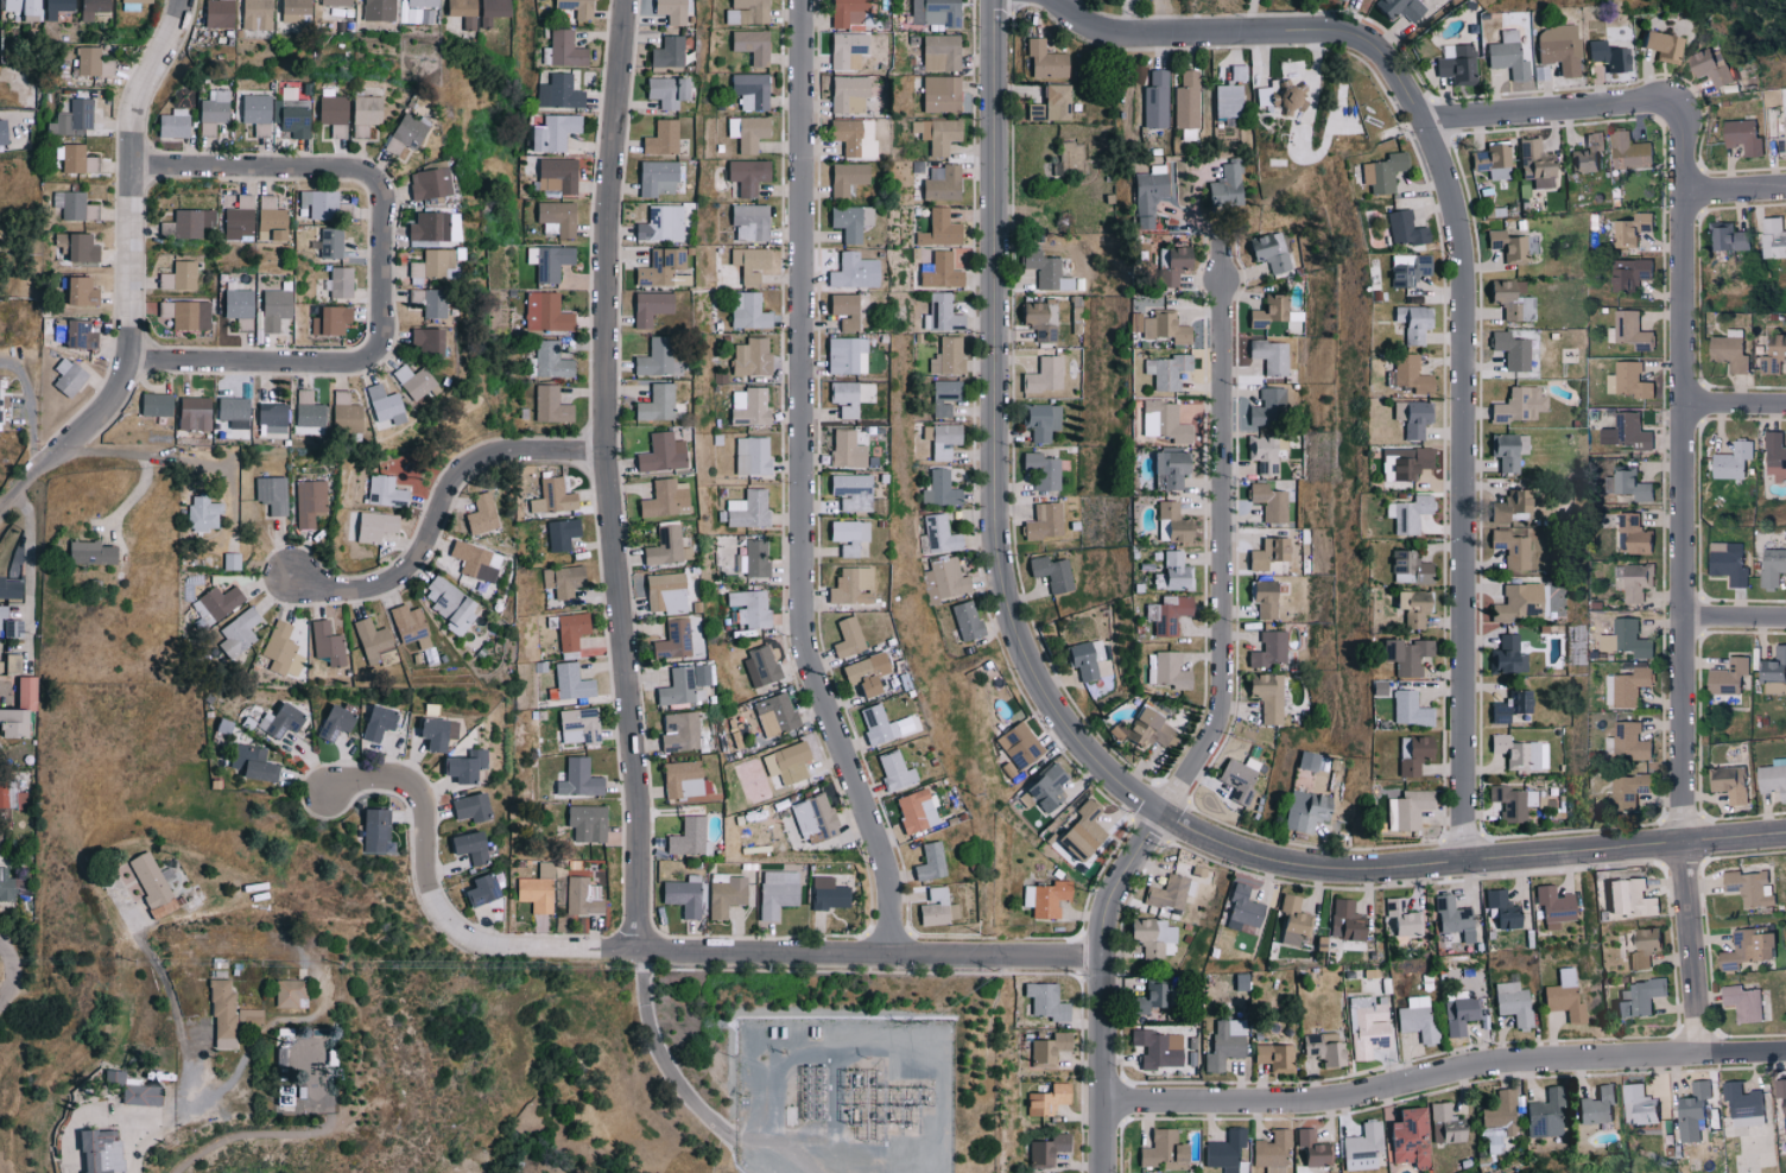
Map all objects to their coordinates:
building: (1343, 0)
building: (338, 2)
building: (381, 2)
building: (133, 4)
building: (424, 4)
building: (59, 7)
building: (574, 7)
building: (25, 8)
building: (94, 8)
building: (296, 9)
building: (1396, 9)
building: (476, 11)
building: (669, 11)
building: (745, 11)
building: (847, 12)
building: (933, 12)
building: (221, 13)
building: (258, 14)
road: (1252, 17)
road: (1163, 18)
road: (1258, 34)
building: (748, 44)
building: (1659, 46)
building: (842, 47)
building: (563, 49)
building: (1557, 49)
building: (666, 51)
building: (938, 51)
building: (1506, 56)
building: (1607, 56)
building: (1043, 59)
building: (88, 61)
building: (1456, 63)
building: (1710, 68)
building: (1236, 71)
building: (749, 89)
building: (663, 90)
building: (556, 91)
building: (843, 93)
building: (939, 93)
building: (1286, 96)
building: (1154, 99)
building: (1185, 100)
building: (1227, 100)
building: (1056, 101)
building: (255, 108)
road: (1598, 109)
building: (214, 110)
building: (362, 114)
building: (72, 118)
building: (290, 120)
building: (1784, 122)
building: (175, 123)
building: (405, 128)
building: (747, 131)
building: (550, 132)
building: (5, 133)
building: (936, 134)
building: (850, 135)
building: (659, 137)
building: (1741, 138)
building: (1628, 151)
building: (1585, 152)
building: (1531, 158)
building: (75, 159)
building: (1490, 159)
building: (1380, 171)
building: (555, 173)
building: (743, 175)
building: (655, 177)
building: (843, 177)
building: (426, 182)
building: (939, 182)
building: (1224, 185)
building: (1147, 194)
road: (1735, 195)
building: (324, 204)
building: (74, 205)
building: (237, 217)
building: (553, 217)
building: (847, 220)
building: (748, 221)
building: (185, 223)
building: (271, 223)
building: (659, 223)
building: (426, 226)
building: (1402, 227)
building: (938, 228)
road: (1205, 229)
building: (1630, 229)
building: (1727, 237)
building: (1772, 237)
building: (329, 241)
building: (1510, 245)
building: (77, 247)
building: (1268, 251)
road: (386, 256)
building: (551, 261)
building: (745, 261)
building: (436, 262)
building: (1168, 264)
building: (657, 266)
building: (842, 270)
building: (1043, 270)
building: (1405, 270)
building: (938, 271)
building: (1628, 273)
building: (177, 275)
road: (131, 280)
building: (337, 280)
building: (77, 291)
building: (1509, 298)
building: (234, 303)
building: (430, 303)
building: (646, 306)
building: (271, 307)
building: (842, 310)
building: (1265, 310)
building: (544, 311)
building: (748, 311)
building: (186, 313)
building: (942, 313)
building: (1037, 317)
building: (329, 319)
building: (1411, 322)
building: (1164, 326)
building: (1630, 330)
building: (75, 334)
building: (422, 342)
building: (1509, 349)
building: (1729, 350)
building: (844, 355)
building: (946, 355)
building: (1268, 355)
building: (1773, 355)
building: (652, 356)
building: (749, 356)
building: (1166, 369)
building: (1043, 374)
building: (1408, 374)
building: (65, 376)
building: (412, 381)
building: (942, 395)
building: (842, 398)
building: (152, 402)
building: (653, 402)
building: (381, 404)
building: (547, 404)
building: (1518, 404)
building: (746, 406)
building: (1265, 406)
road: (1736, 408)
building: (232, 411)
building: (191, 412)
building: (308, 413)
building: (270, 417)
road: (31, 418)
building: (1039, 419)
building: (1411, 419)
building: (1170, 424)
building: (1624, 432)
road: (996, 437)
building: (942, 439)
building: (845, 449)
building: (1506, 449)
building: (1260, 451)
building: (657, 454)
building: (750, 455)
building: (1775, 456)
road: (171, 458)
building: (1731, 461)
building: (1401, 462)
building: (1167, 467)
building: (1040, 469)
road: (612, 474)
road: (803, 483)
building: (1627, 483)
building: (943, 488)
building: (385, 490)
building: (849, 490)
building: (271, 493)
road: (1463, 495)
building: (552, 496)
building: (661, 497)
building: (308, 501)
building: (1266, 501)
building: (1508, 503)
road: (443, 506)
building: (745, 509)
building: (1406, 512)
building: (199, 513)
building: (477, 513)
building: (1041, 520)
building: (1170, 521)
building: (370, 525)
building: (559, 533)
building: (940, 533)
building: (844, 534)
building: (1633, 534)
building: (665, 546)
building: (1509, 547)
building: (84, 552)
building: (1266, 552)
road: (1224, 554)
building: (753, 558)
building: (473, 559)
building: (228, 560)
building: (1727, 563)
building: (1407, 566)
building: (1772, 566)
building: (1172, 570)
building: (1049, 571)
road: (26, 575)
building: (948, 576)
building: (562, 579)
building: (1633, 581)
building: (849, 585)
building: (664, 591)
building: (1261, 596)
building: (218, 600)
building: (1543, 600)
building: (444, 601)
building: (1514, 602)
building: (1410, 605)
building: (748, 607)
building: (964, 619)
road: (1736, 621)
building: (8, 624)
building: (407, 624)
road: (1686, 628)
building: (569, 629)
building: (237, 632)
building: (845, 636)
building: (1630, 638)
building: (671, 639)
building: (370, 641)
building: (323, 642)
building: (1267, 649)
building: (279, 651)
building: (1402, 654)
building: (1505, 654)
building: (1081, 658)
building: (758, 665)
building: (1773, 665)
building: (1163, 670)
building: (856, 677)
building: (1727, 677)
building: (570, 681)
road: (1, 686)
building: (1626, 686)
building: (23, 691)
building: (1265, 695)
building: (1508, 705)
building: (1407, 709)
building: (774, 714)
building: (278, 719)
building: (9, 722)
building: (331, 722)
building: (373, 722)
building: (576, 724)
building: (875, 724)
building: (1146, 727)
building: (449, 729)
building: (679, 730)
building: (426, 731)
building: (1628, 741)
building: (1018, 744)
building: (1514, 752)
building: (1411, 754)
building: (1304, 760)
building: (788, 761)
building: (249, 762)
building: (460, 765)
building: (892, 769)
building: (576, 778)
building: (684, 778)
building: (1237, 778)
building: (1773, 779)
building: (1729, 782)
building: (1045, 787)
building: (1628, 790)
building: (9, 793)
building: (1512, 801)
building: (468, 806)
building: (1410, 807)
building: (913, 810)
building: (1304, 811)
building: (810, 818)
building: (584, 822)
building: (374, 830)
building: (1079, 830)
building: (685, 836)
building: (465, 845)
road: (423, 848)
building: (926, 861)
road: (1469, 863)
building: (144, 877)
building: (4, 884)
building: (1749, 887)
building: (477, 888)
building: (774, 892)
building: (1170, 892)
building: (533, 893)
building: (825, 893)
building: (582, 894)
building: (682, 894)
building: (723, 895)
building: (1624, 896)
building: (1045, 898)
building: (1240, 906)
building: (1551, 906)
building: (159, 907)
building: (1499, 908)
building: (1451, 917)
building: (1399, 918)
building: (1291, 920)
building: (1344, 920)
building: (1151, 936)
building: (1641, 947)
building: (1747, 947)
road: (809, 951)
road: (11, 976)
road: (1108, 987)
building: (278, 993)
building: (1563, 996)
building: (1146, 997)
building: (1635, 998)
building: (1044, 1001)
building: (1510, 1002)
building: (1742, 1003)
building: (221, 1012)
building: (1458, 1014)
building: (1415, 1019)
road: (177, 1023)
building: (1366, 1026)
road: (360, 1031)
building: (1225, 1040)
building: (1047, 1047)
building: (1157, 1047)
building: (1325, 1048)
building: (1273, 1057)
road: (689, 1071)
road: (1445, 1074)
building: (126, 1089)
building: (281, 1095)
power substation: (844, 1096)
building: (1045, 1098)
building: (1742, 1104)
building: (1596, 1105)
building: (1638, 1105)
road: (176, 1111)
building: (1500, 1111)
building: (1691, 1111)
building: (1544, 1114)
building: (1784, 1120)
building: (1444, 1124)
road: (270, 1133)
building: (1405, 1136)
building: (1360, 1146)
building: (1046, 1149)
building: (1271, 1149)
building: (1310, 1149)
building: (89, 1150)
building: (1161, 1150)
building: (1223, 1153)

